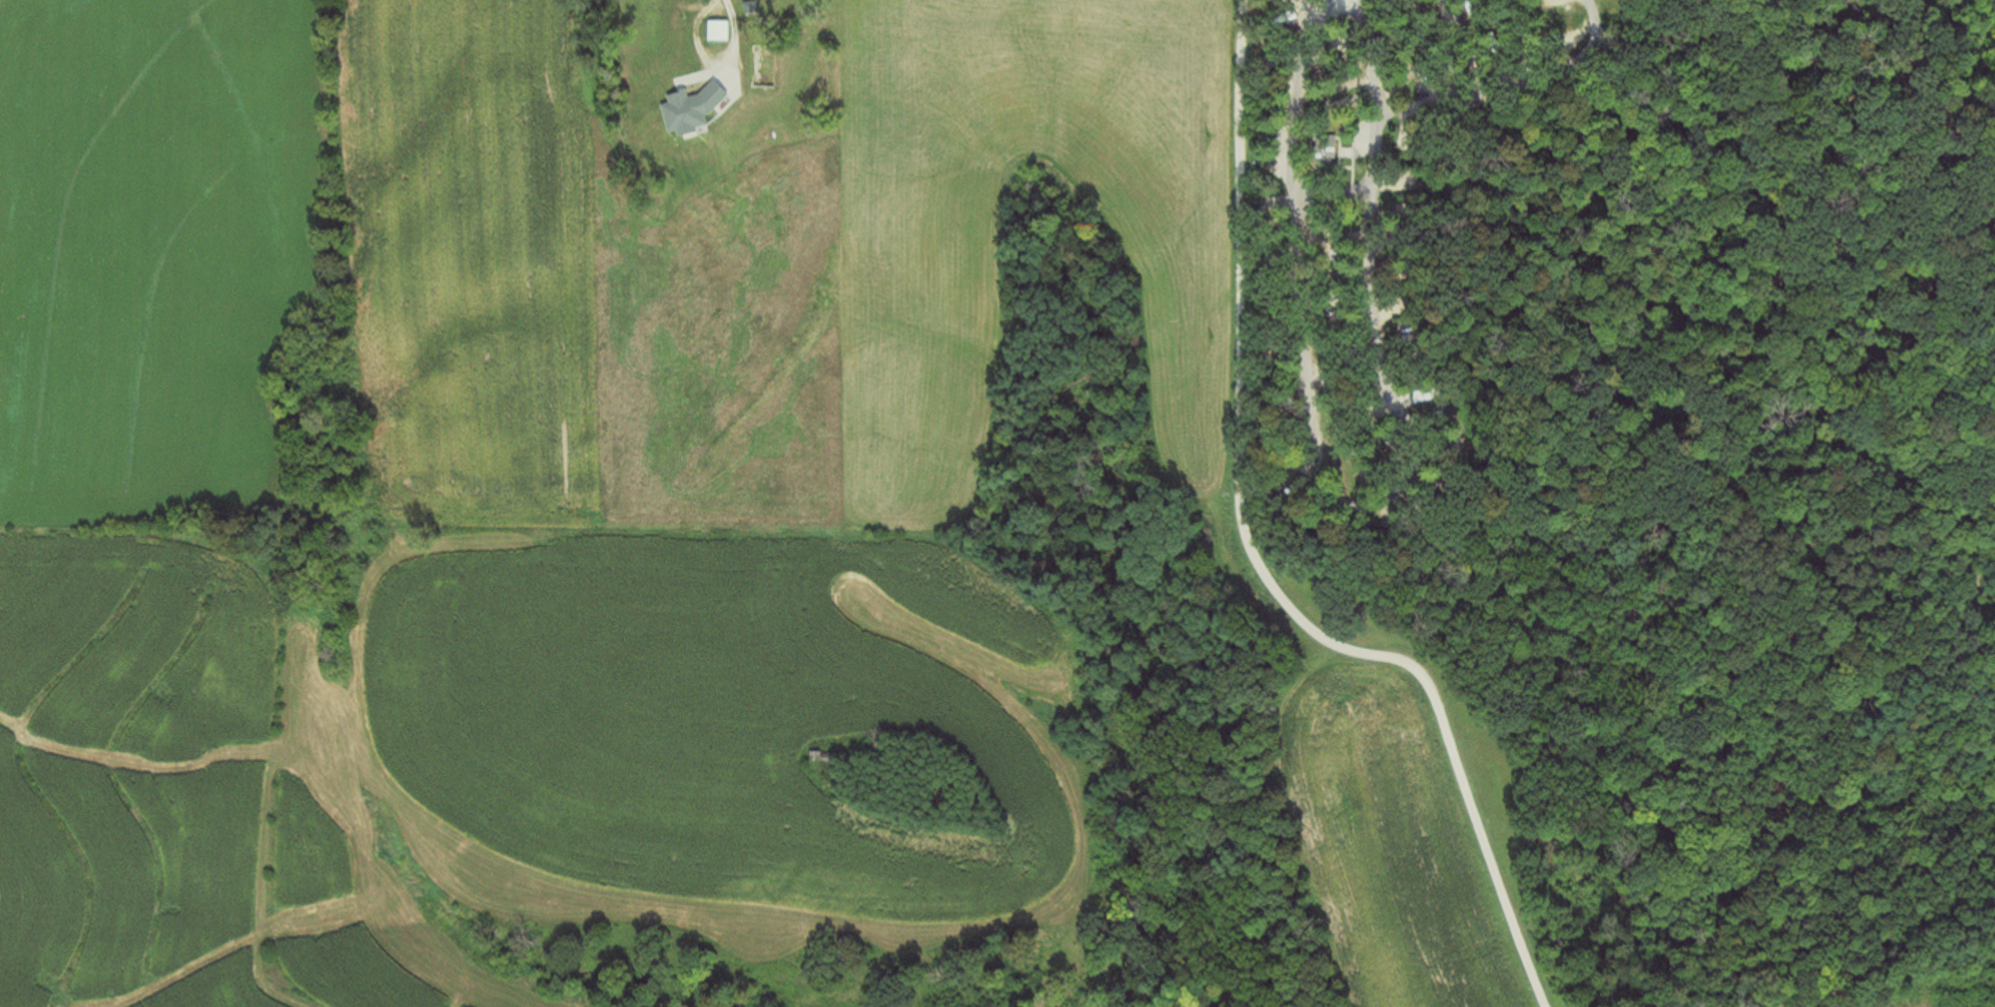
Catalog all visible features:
building: (644, 4)
road: (1321, 4)
building: (715, 32)
road: (1484, 75)
building: (1405, 192)
building: (1430, 400)
road: (1337, 484)
road: (1256, 562)
building: (818, 761)

